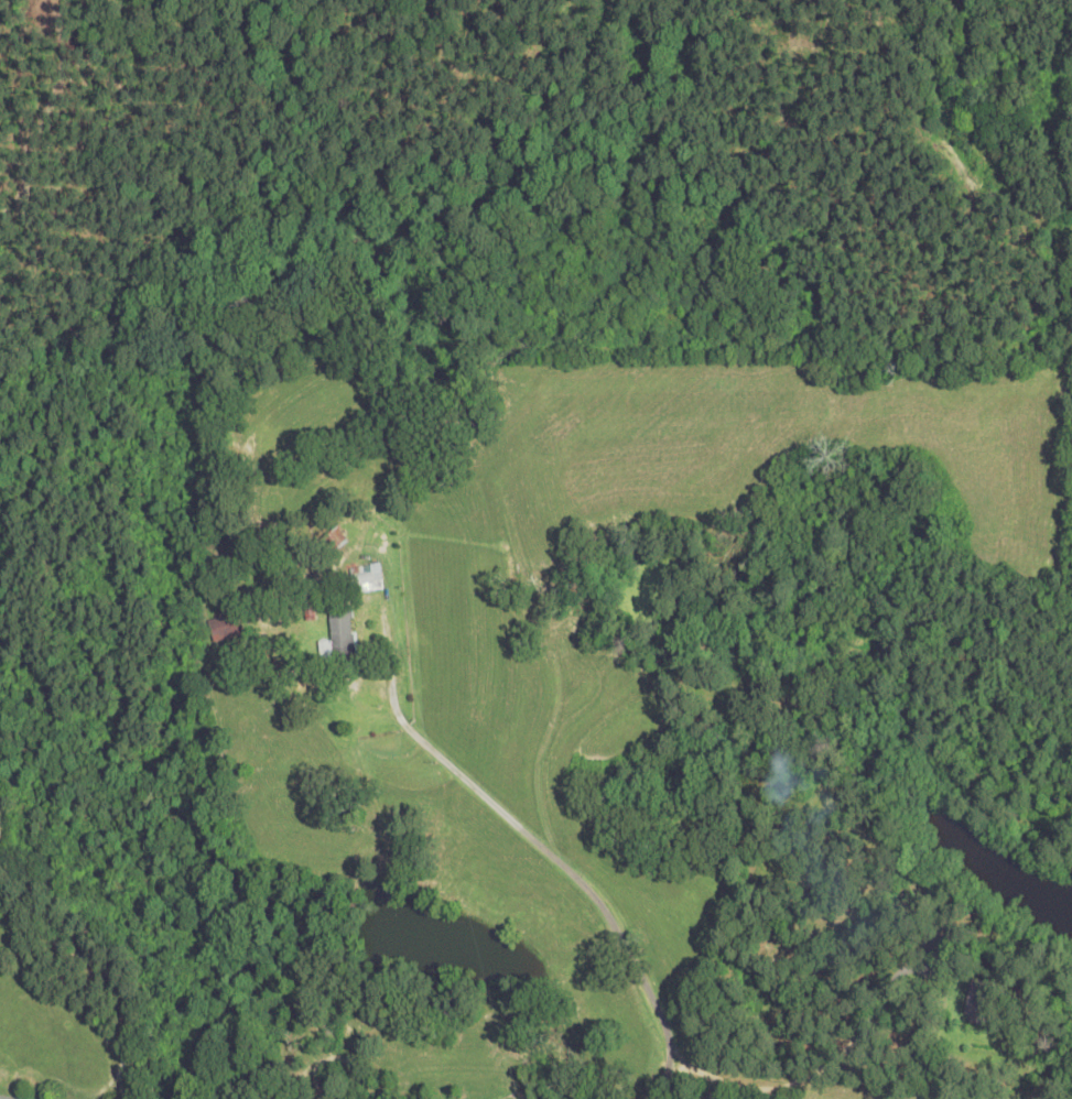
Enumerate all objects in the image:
road: (933, 77)
building: (342, 634)
road: (564, 862)
road: (0, 1098)

